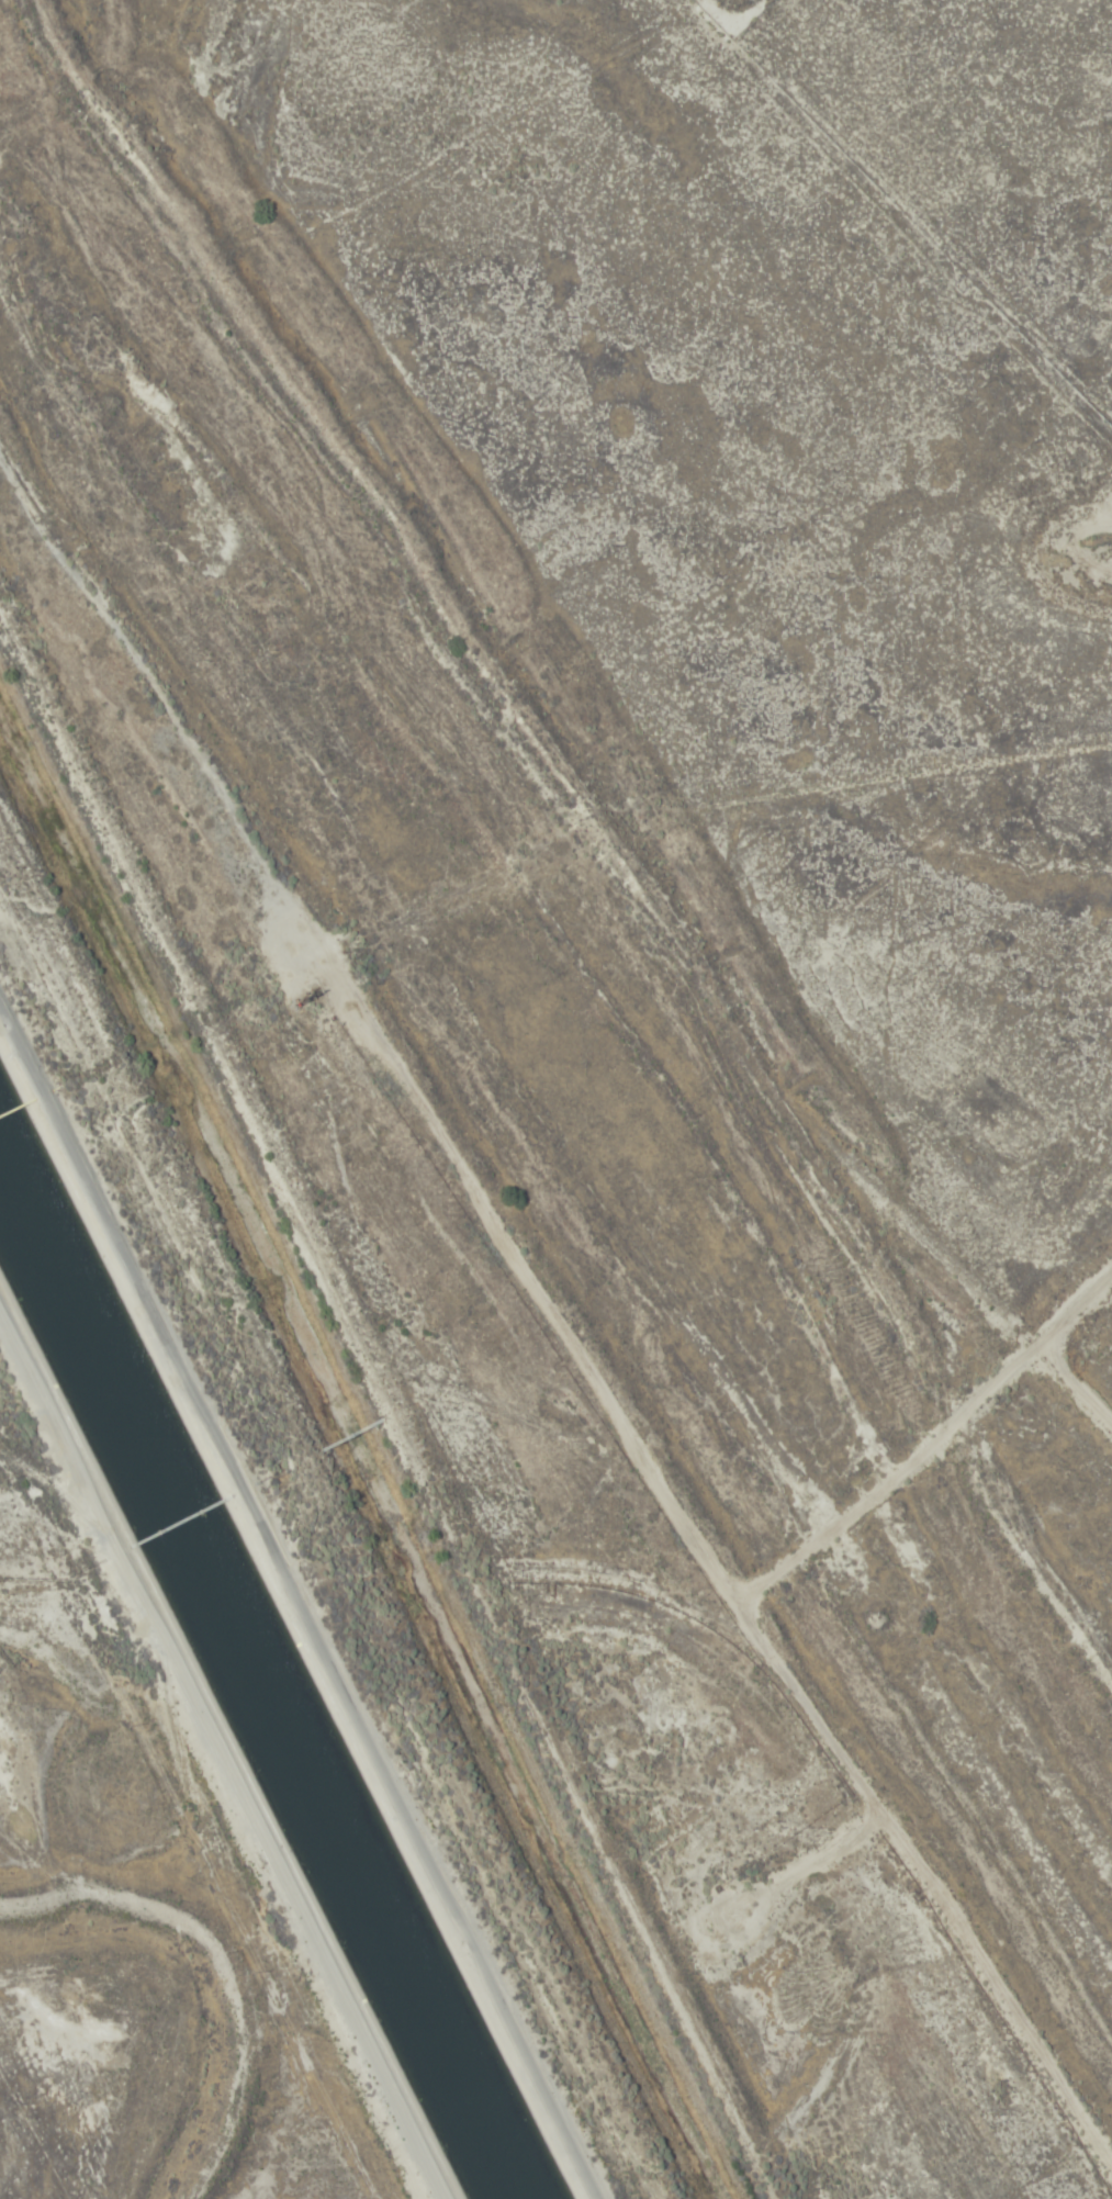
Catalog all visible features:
road: (586, 809)
road: (1063, 1344)
road: (532, 1362)
road: (300, 1603)
road: (222, 1755)
crop: (74, 2046)

